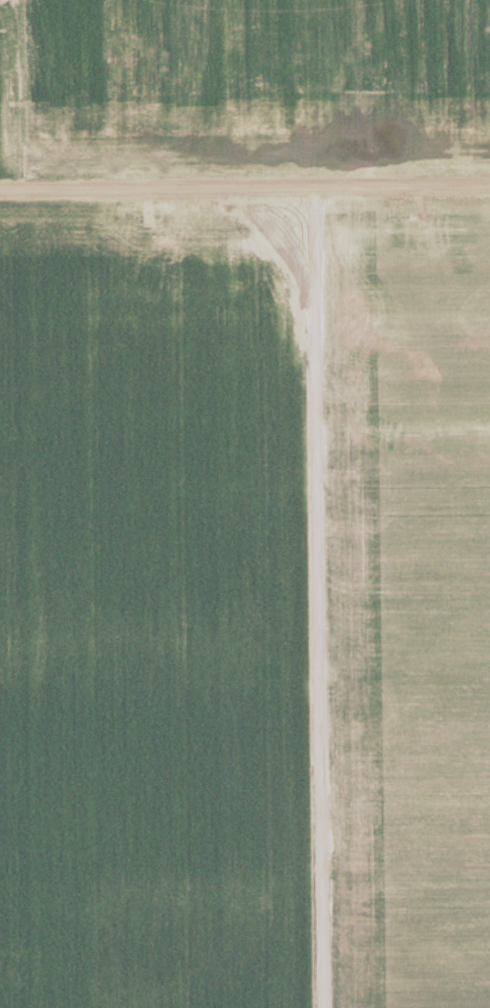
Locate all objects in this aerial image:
road: (245, 189)

